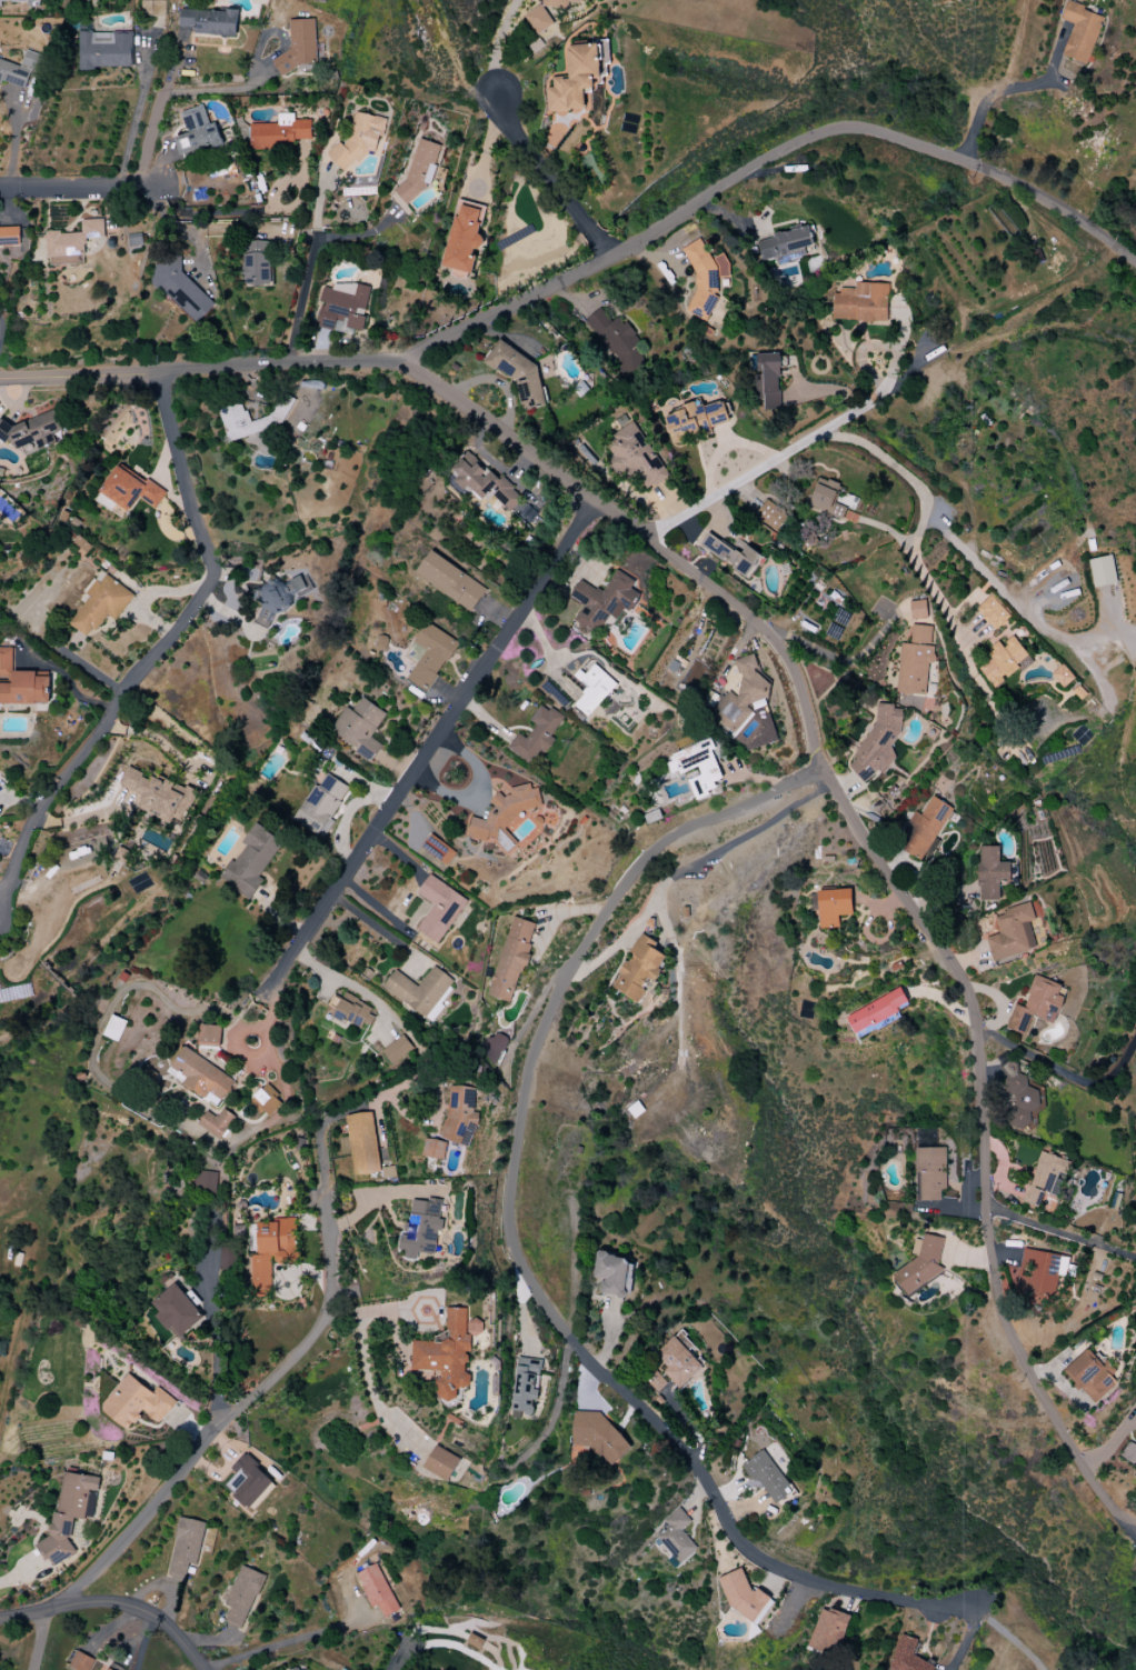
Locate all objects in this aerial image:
building: (17, 1)
building: (556, 2)
building: (153, 8)
building: (538, 20)
building: (210, 21)
building: (1080, 31)
building: (300, 44)
building: (104, 50)
building: (18, 70)
building: (577, 77)
road: (229, 89)
road: (1009, 89)
road: (158, 118)
road: (136, 124)
building: (197, 132)
building: (279, 133)
building: (358, 140)
road: (765, 161)
building: (420, 168)
road: (548, 179)
road: (76, 190)
road: (240, 213)
building: (9, 236)
building: (72, 243)
building: (784, 244)
road: (311, 258)
building: (257, 262)
building: (705, 278)
building: (181, 289)
building: (861, 302)
building: (342, 307)
road: (1000, 338)
building: (616, 341)
building: (518, 373)
building: (767, 380)
building: (278, 417)
building: (696, 419)
building: (32, 432)
road: (724, 444)
building: (636, 456)
road: (760, 473)
building: (484, 481)
building: (130, 489)
building: (827, 499)
road: (921, 512)
building: (770, 514)
building: (730, 554)
building: (1102, 571)
building: (450, 581)
building: (282, 594)
road: (1007, 599)
building: (602, 600)
building: (100, 604)
building: (918, 609)
building: (993, 612)
road: (547, 652)
road: (156, 653)
building: (430, 656)
building: (915, 661)
building: (1003, 661)
building: (1063, 676)
building: (20, 683)
building: (592, 687)
road: (800, 692)
building: (359, 727)
building: (536, 736)
building: (878, 742)
road: (428, 748)
building: (697, 767)
building: (158, 794)
building: (321, 804)
building: (505, 817)
building: (924, 828)
building: (438, 849)
building: (250, 861)
road: (690, 867)
building: (990, 873)
building: (833, 906)
building: (439, 908)
road: (376, 926)
building: (1012, 932)
building: (511, 959)
building: (639, 968)
road: (348, 983)
building: (419, 991)
building: (1037, 1004)
building: (877, 1010)
building: (351, 1011)
building: (210, 1036)
building: (492, 1047)
building: (397, 1049)
road: (1066, 1072)
building: (200, 1076)
building: (1019, 1097)
building: (267, 1100)
building: (460, 1116)
building: (217, 1121)
building: (362, 1143)
building: (435, 1149)
building: (930, 1173)
building: (1045, 1178)
building: (206, 1181)
building: (421, 1228)
road: (1059, 1232)
building: (272, 1251)
road: (514, 1251)
building: (923, 1263)
building: (612, 1274)
building: (1038, 1274)
building: (177, 1310)
road: (377, 1310)
road: (215, 1346)
building: (448, 1352)
road: (295, 1354)
building: (677, 1362)
building: (1089, 1374)
building: (655, 1381)
building: (526, 1384)
building: (136, 1402)
road: (555, 1407)
building: (598, 1436)
building: (1129, 1452)
building: (441, 1462)
building: (767, 1476)
building: (248, 1481)
building: (69, 1514)
building: (677, 1538)
building: (186, 1544)
road: (17, 1573)
building: (377, 1589)
building: (744, 1594)
building: (242, 1596)
road: (112, 1604)
building: (828, 1631)
road: (1008, 1637)
road: (38, 1640)
building: (475, 1640)
road: (143, 1644)
road: (281, 1644)
building: (908, 1656)
building: (80, 1662)
building: (108, 1669)

